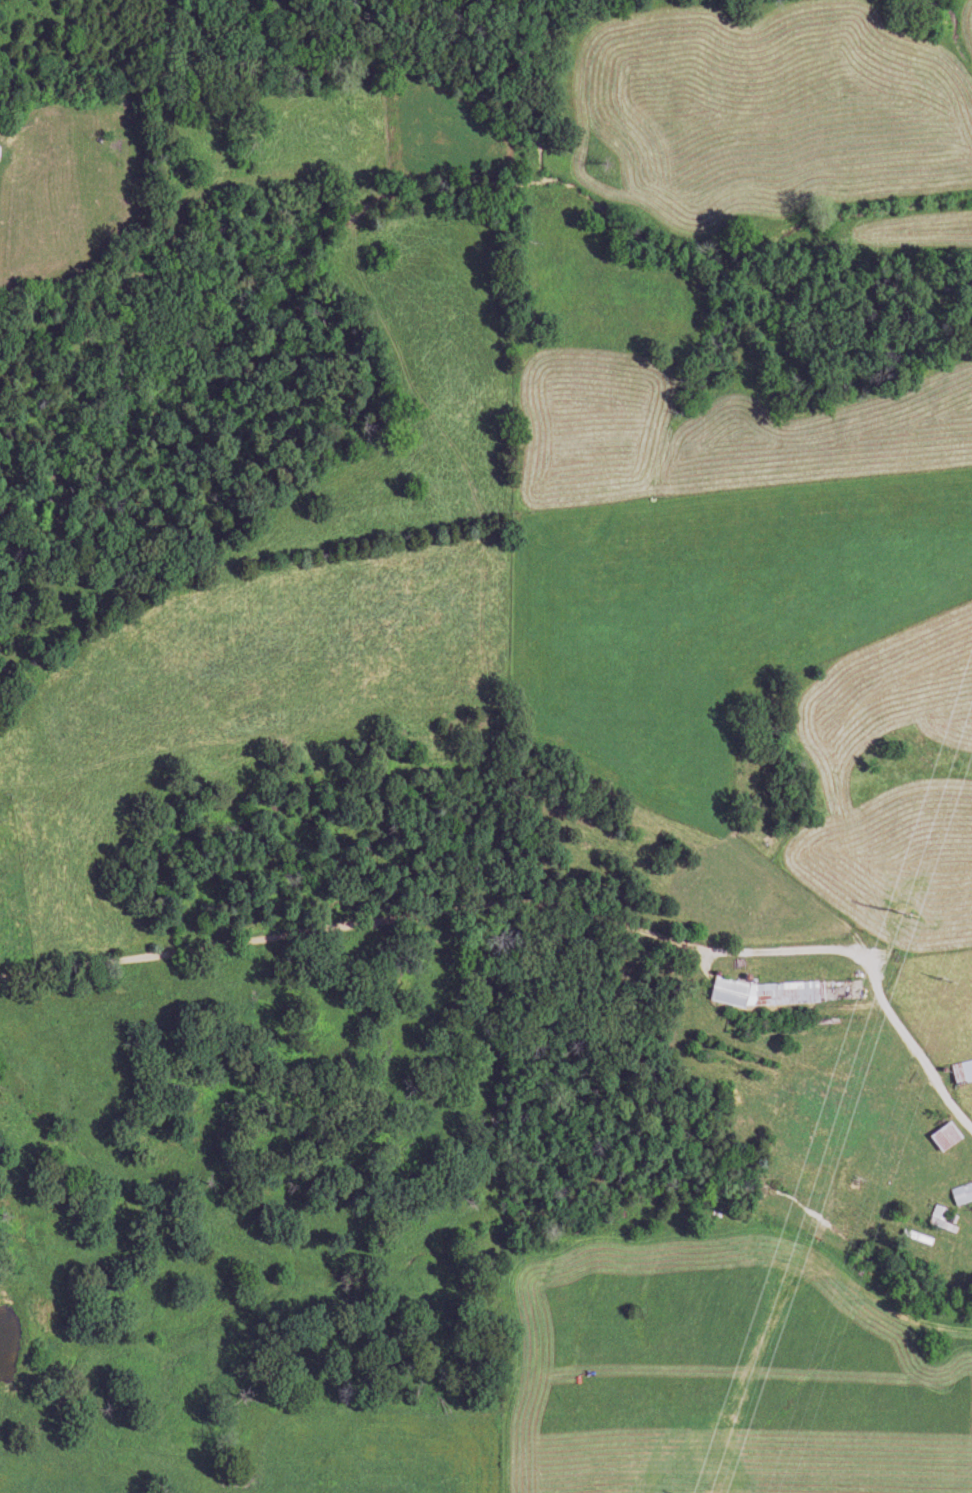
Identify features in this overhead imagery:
road: (536, 904)
power tower: (897, 908)
building: (764, 992)
building: (960, 1070)
building: (941, 1135)
building: (961, 1194)

